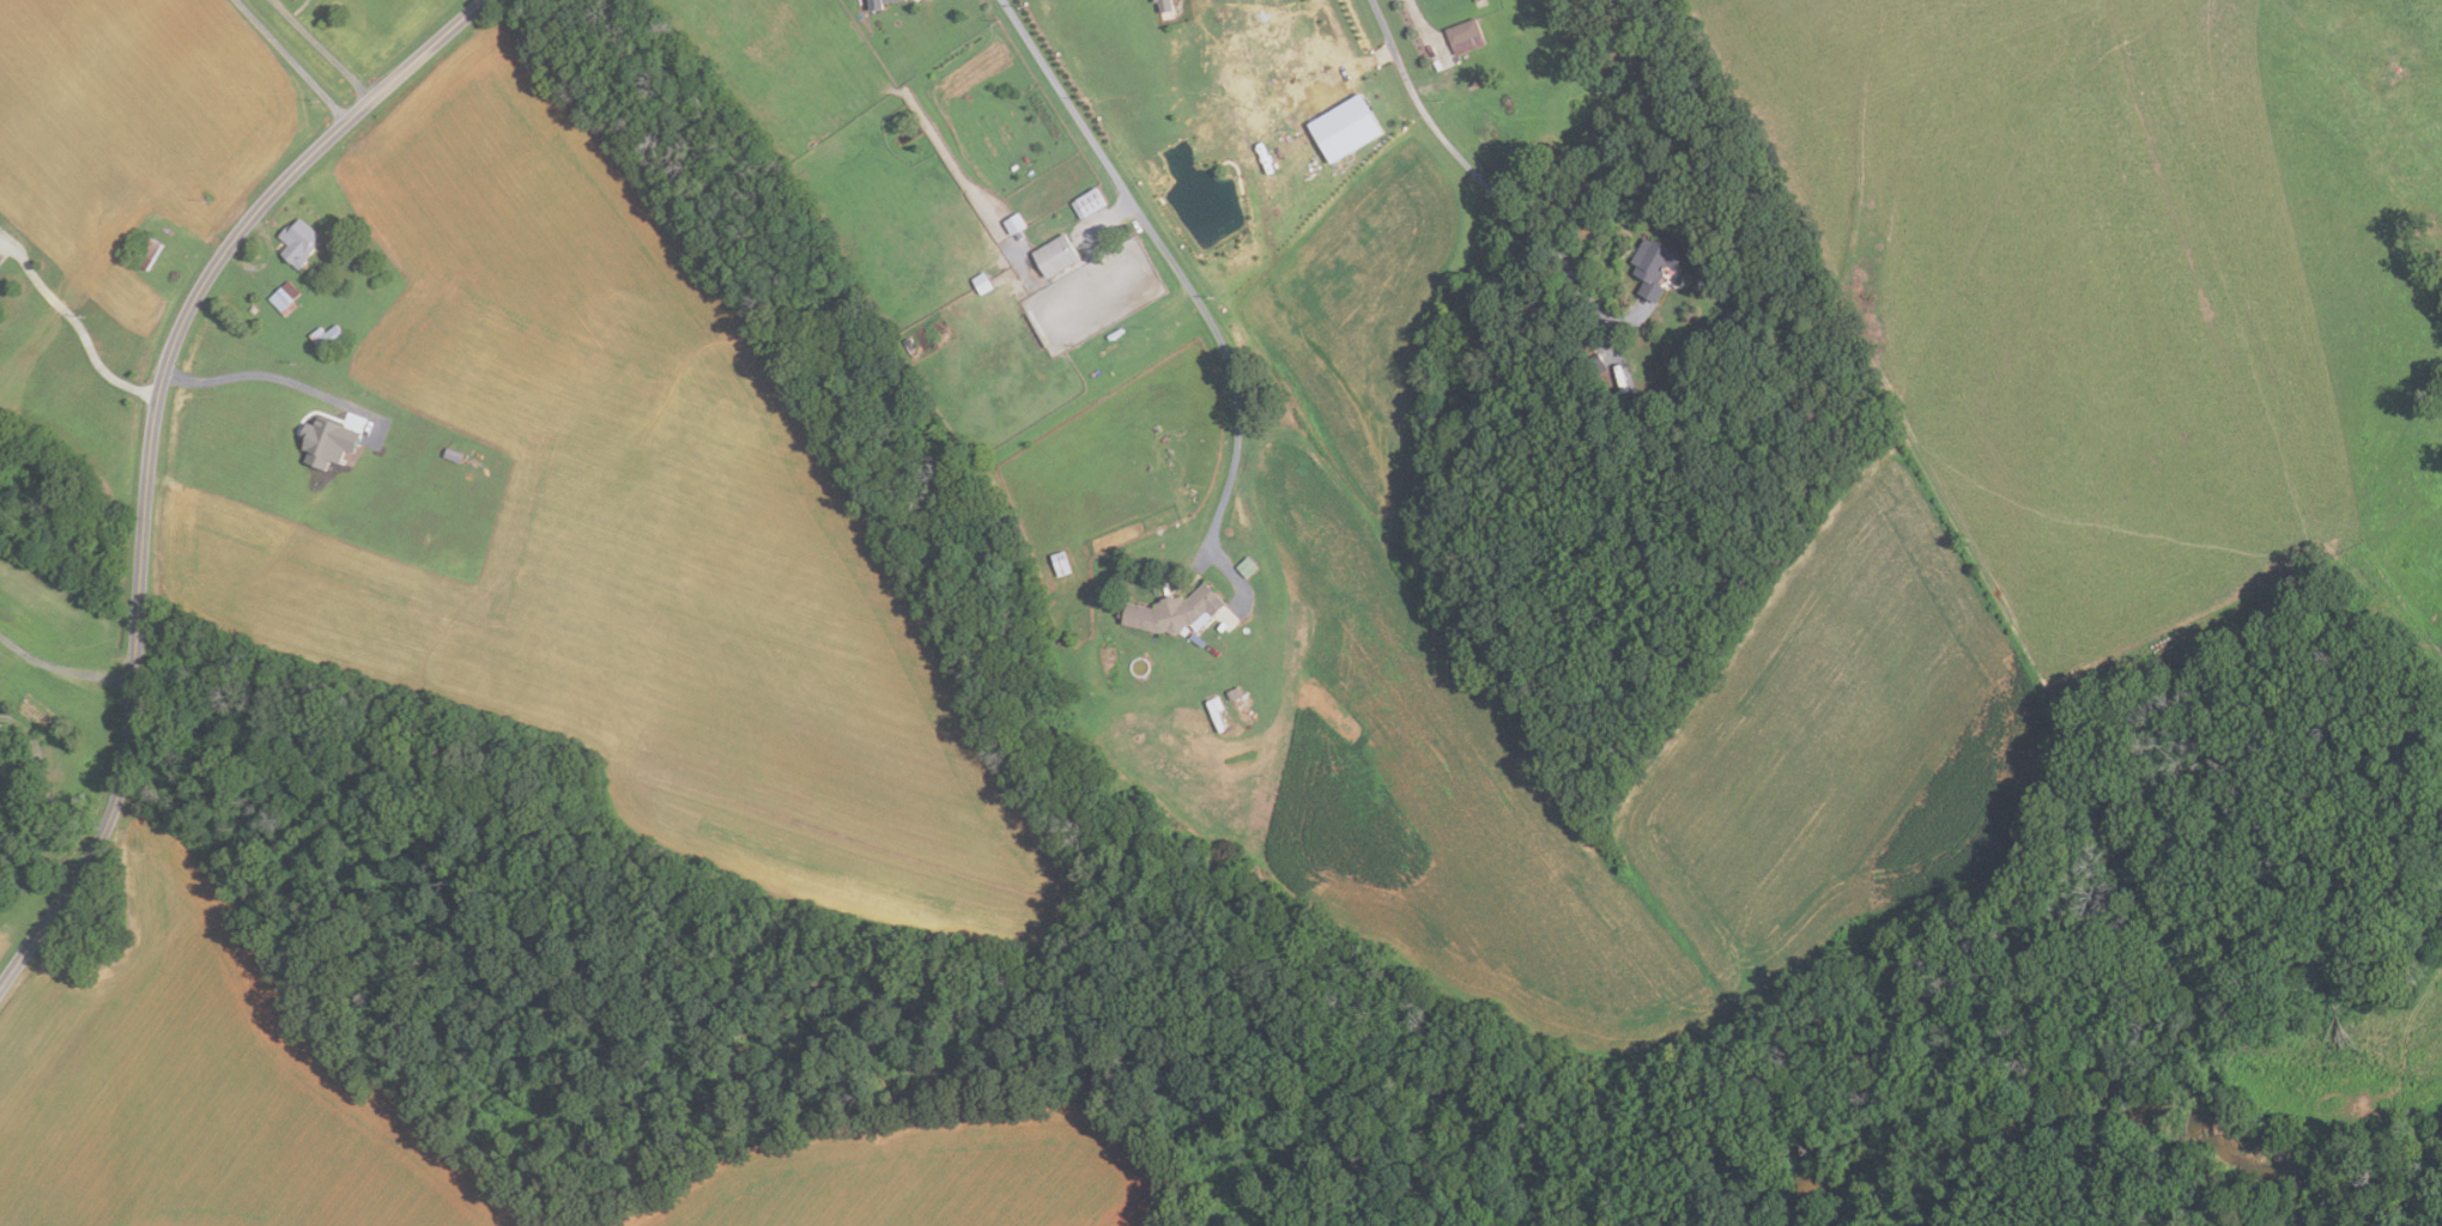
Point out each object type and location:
building: (1153, 0)
building: (873, 4)
building: (1465, 36)
road: (328, 51)
road: (1435, 55)
road: (293, 60)
building: (1350, 126)
road: (1484, 183)
building: (1074, 187)
crop: (950, 200)
building: (1086, 202)
building: (1013, 221)
building: (1018, 233)
building: (302, 241)
building: (152, 253)
building: (1054, 254)
road: (1175, 265)
building: (1653, 265)
building: (981, 283)
building: (286, 298)
building: (255, 309)
road: (84, 333)
building: (331, 335)
road: (249, 374)
building: (332, 441)
road: (150, 449)
building: (458, 455)
building: (1059, 563)
building: (1247, 566)
building: (1172, 611)
road: (62, 667)
building: (1232, 693)
road: (49, 799)

